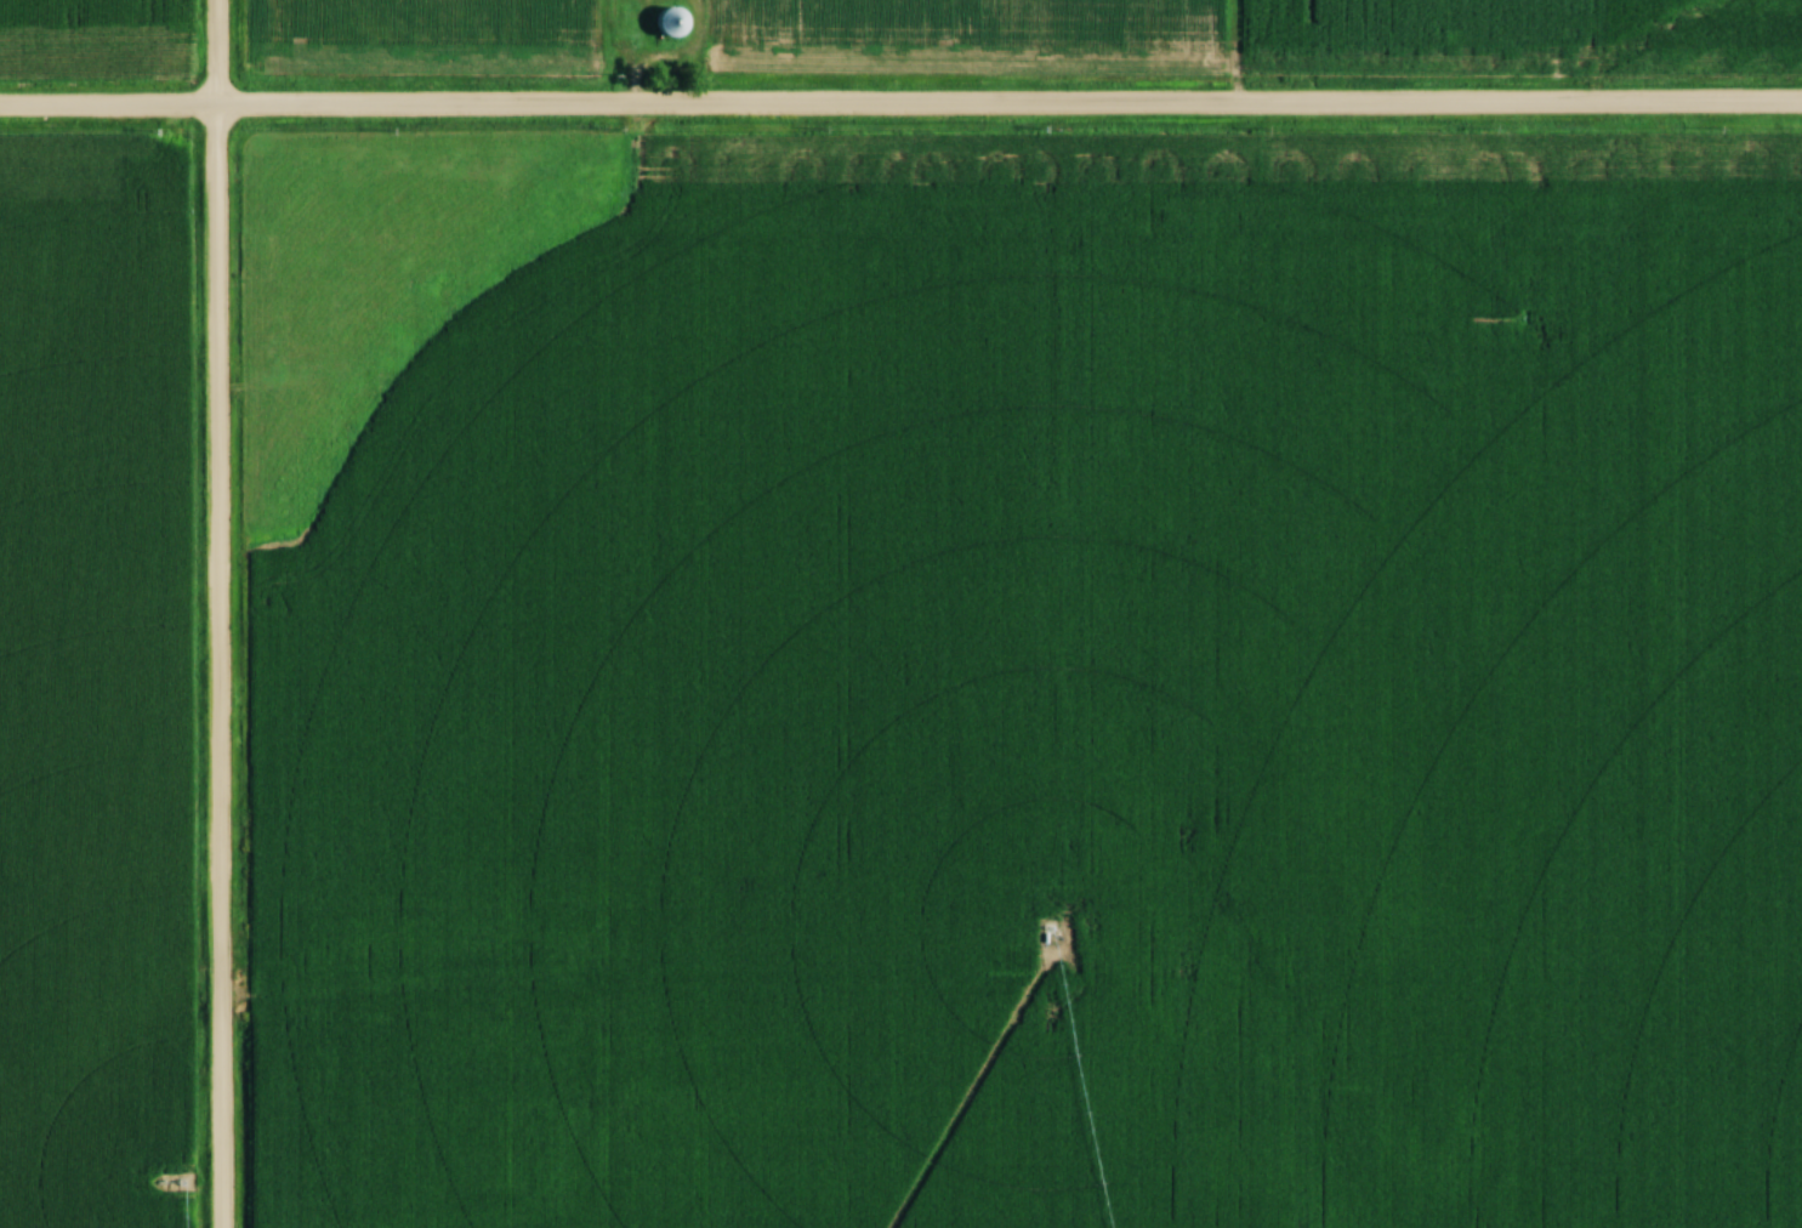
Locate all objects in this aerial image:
building: (677, 23)
road: (900, 104)
road: (220, 614)

